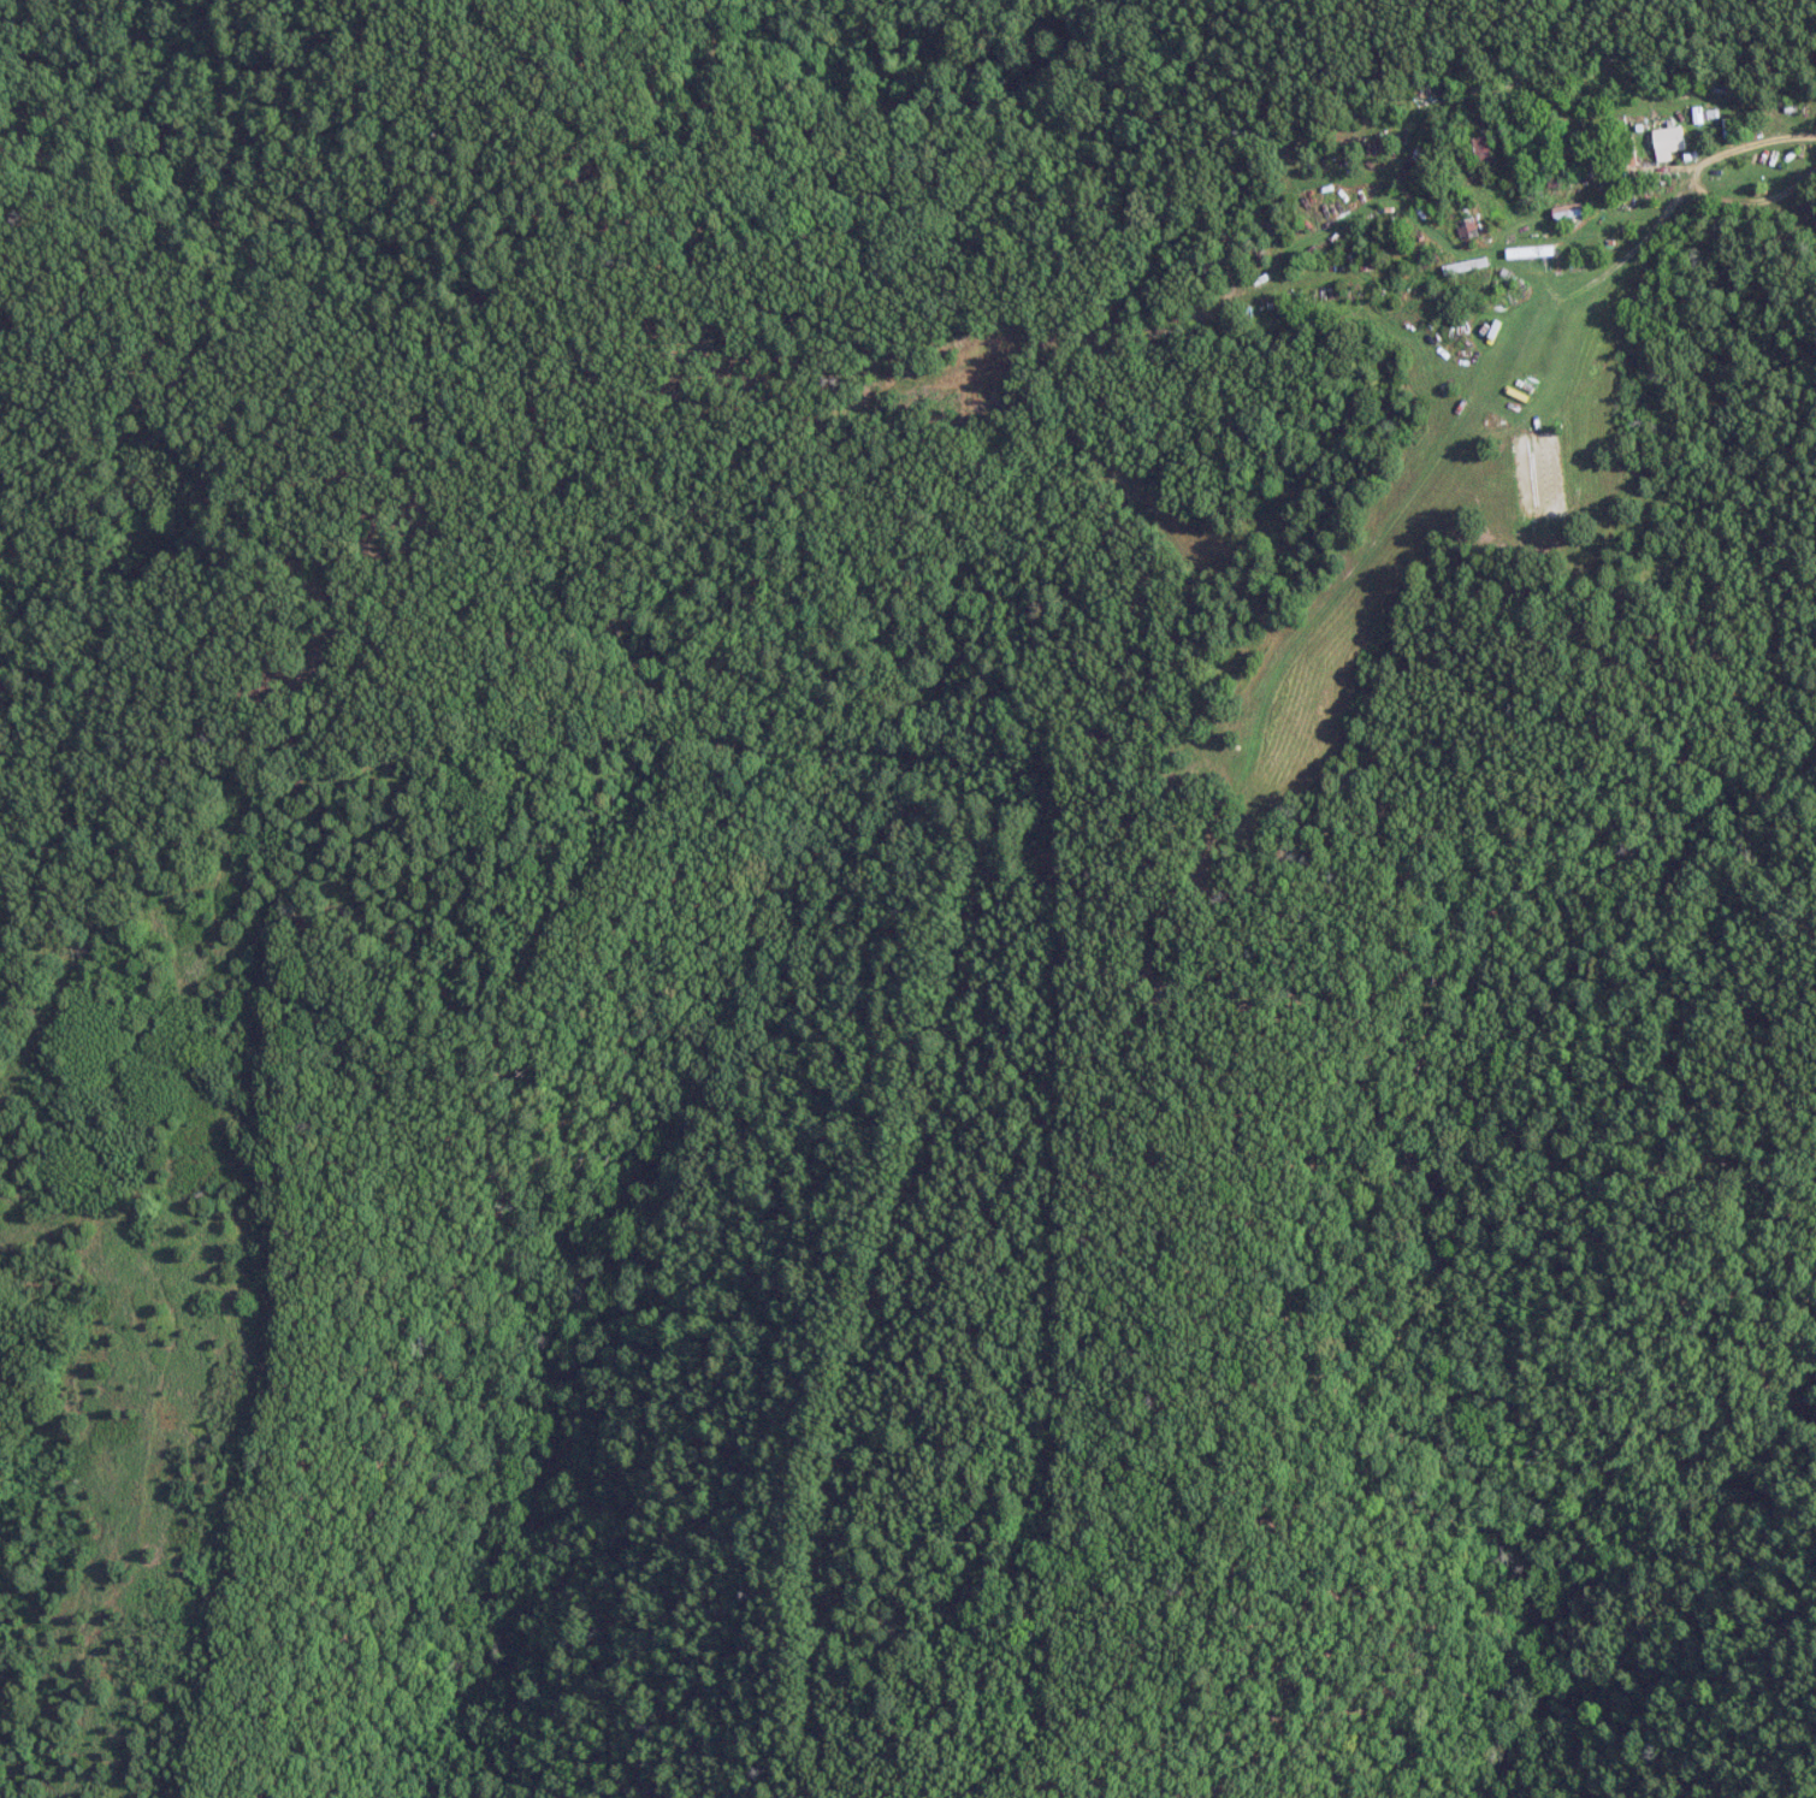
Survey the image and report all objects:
building: (1664, 142)
building: (1623, 148)
building: (1564, 211)

